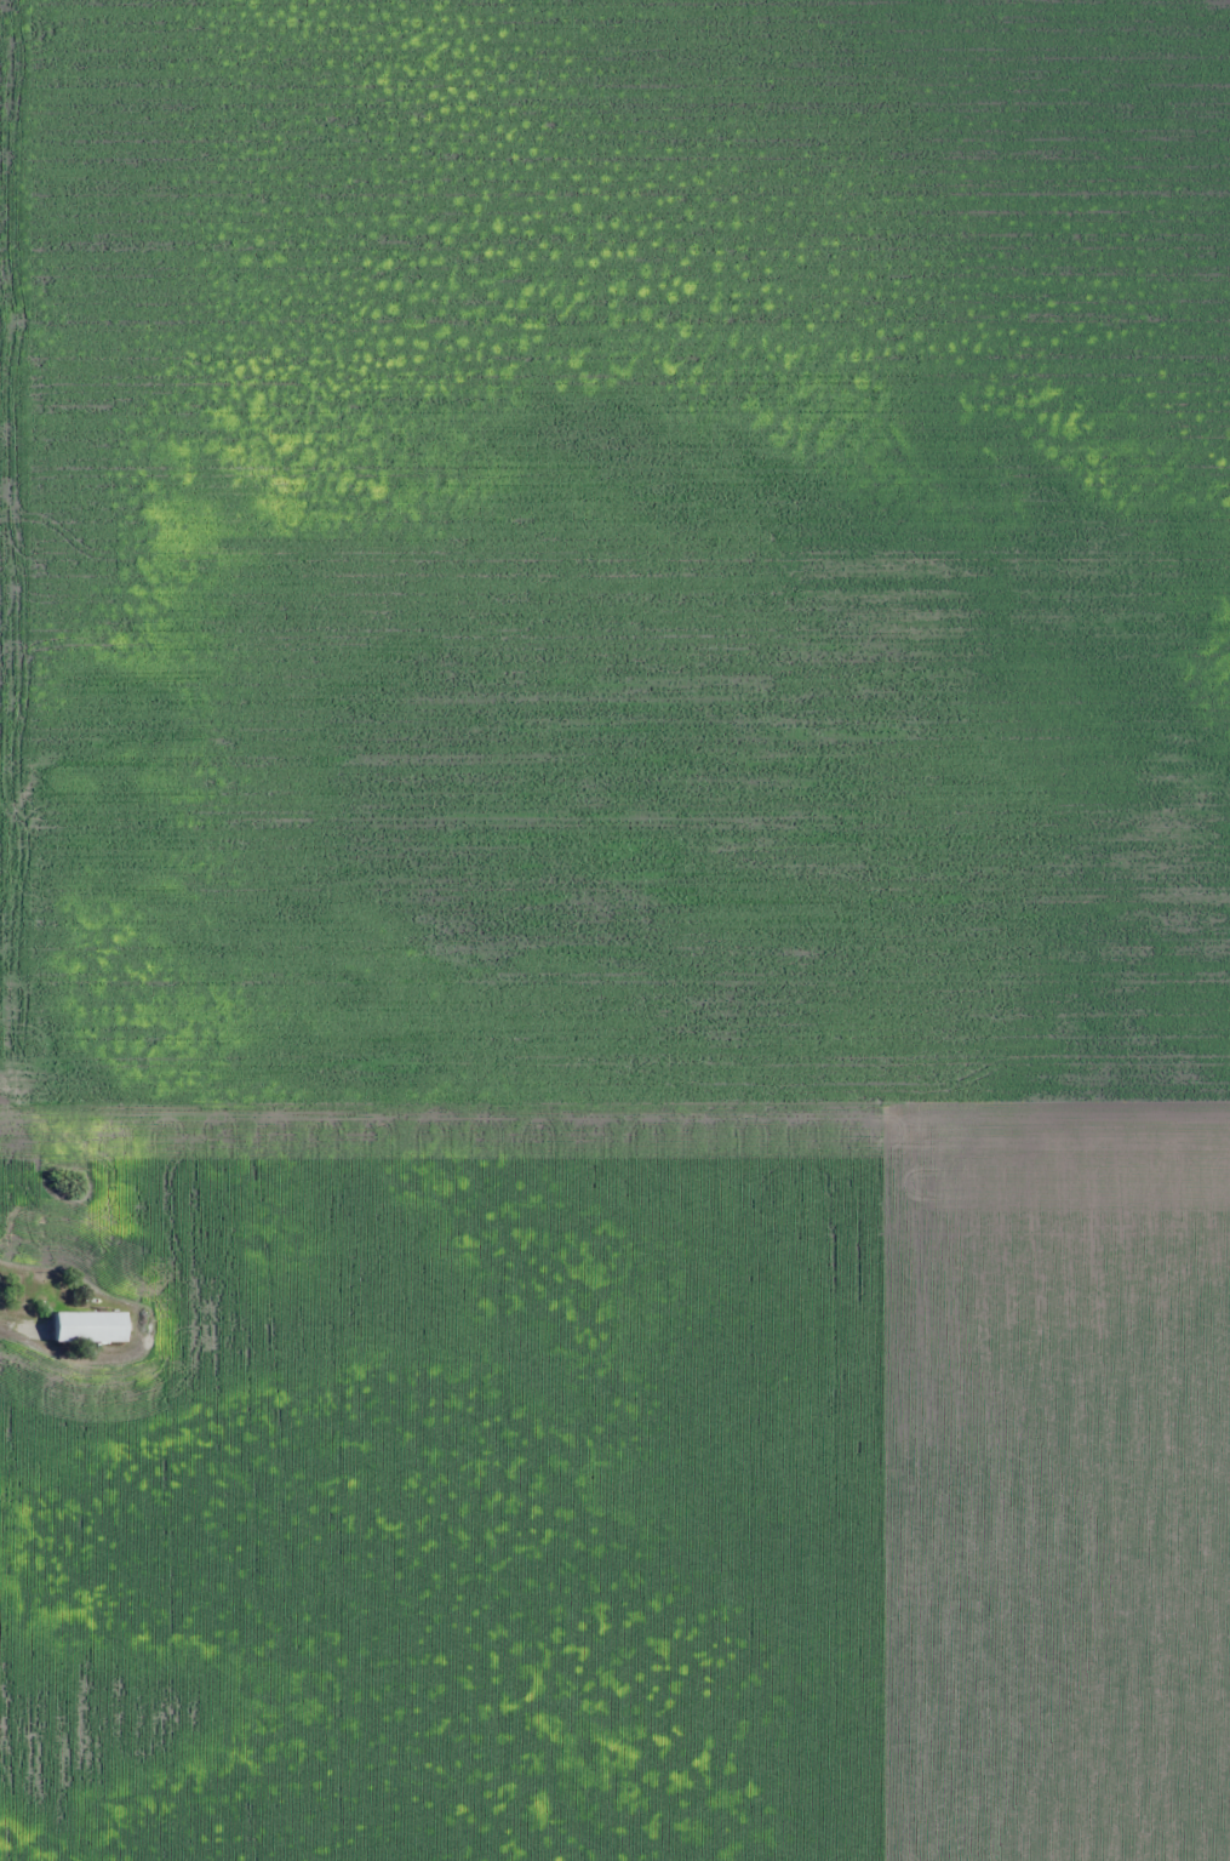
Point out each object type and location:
crop: (617, 927)
building: (90, 1326)

